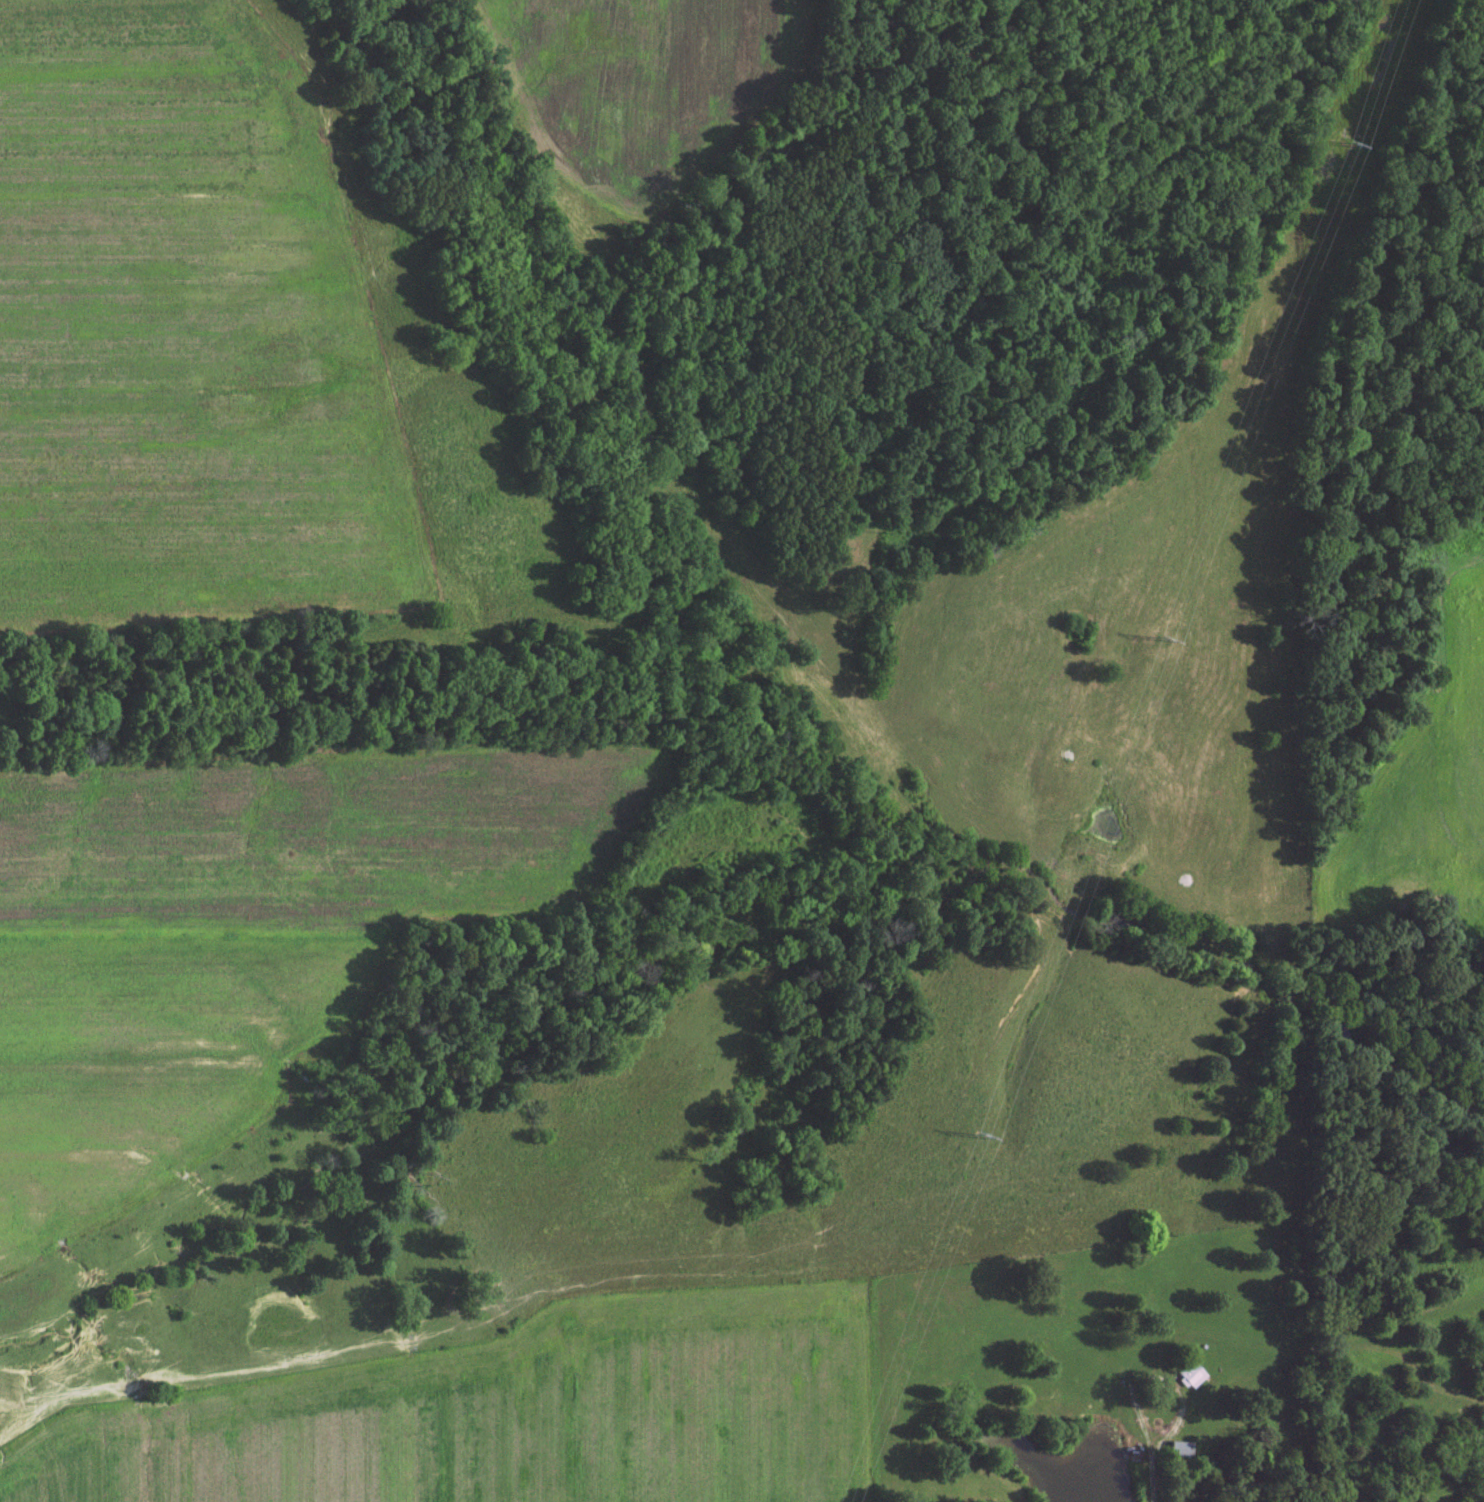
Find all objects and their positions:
building: (1187, 1379)
building: (1175, 1455)

